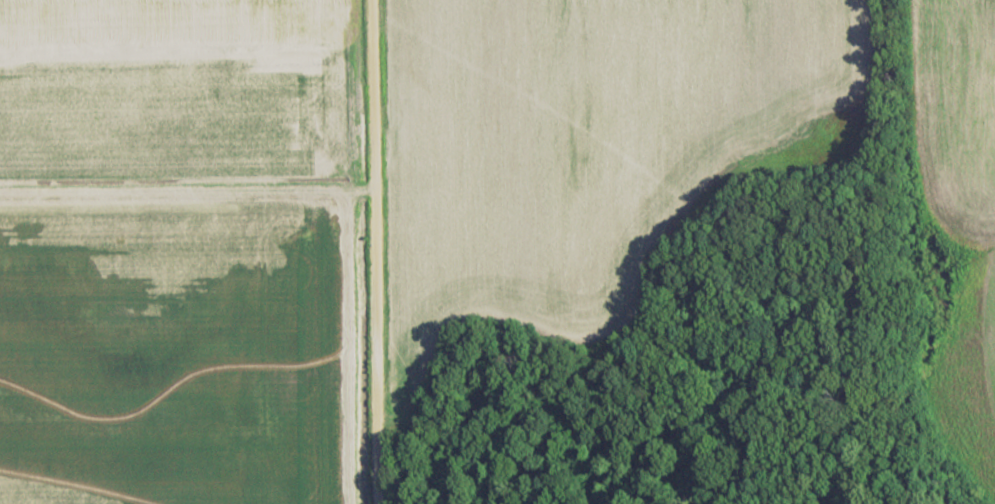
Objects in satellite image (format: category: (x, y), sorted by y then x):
road: (186, 192)
road: (375, 252)

